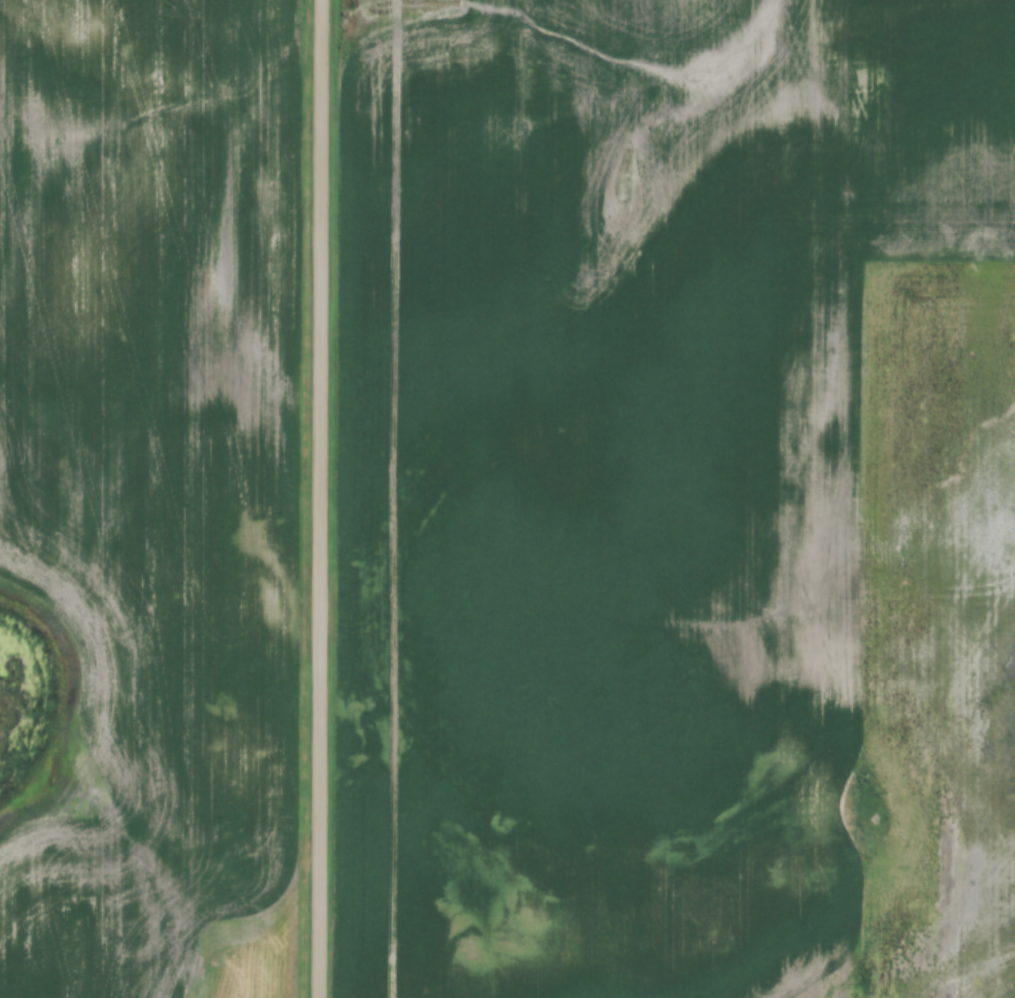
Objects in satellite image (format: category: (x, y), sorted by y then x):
road: (320, 499)

